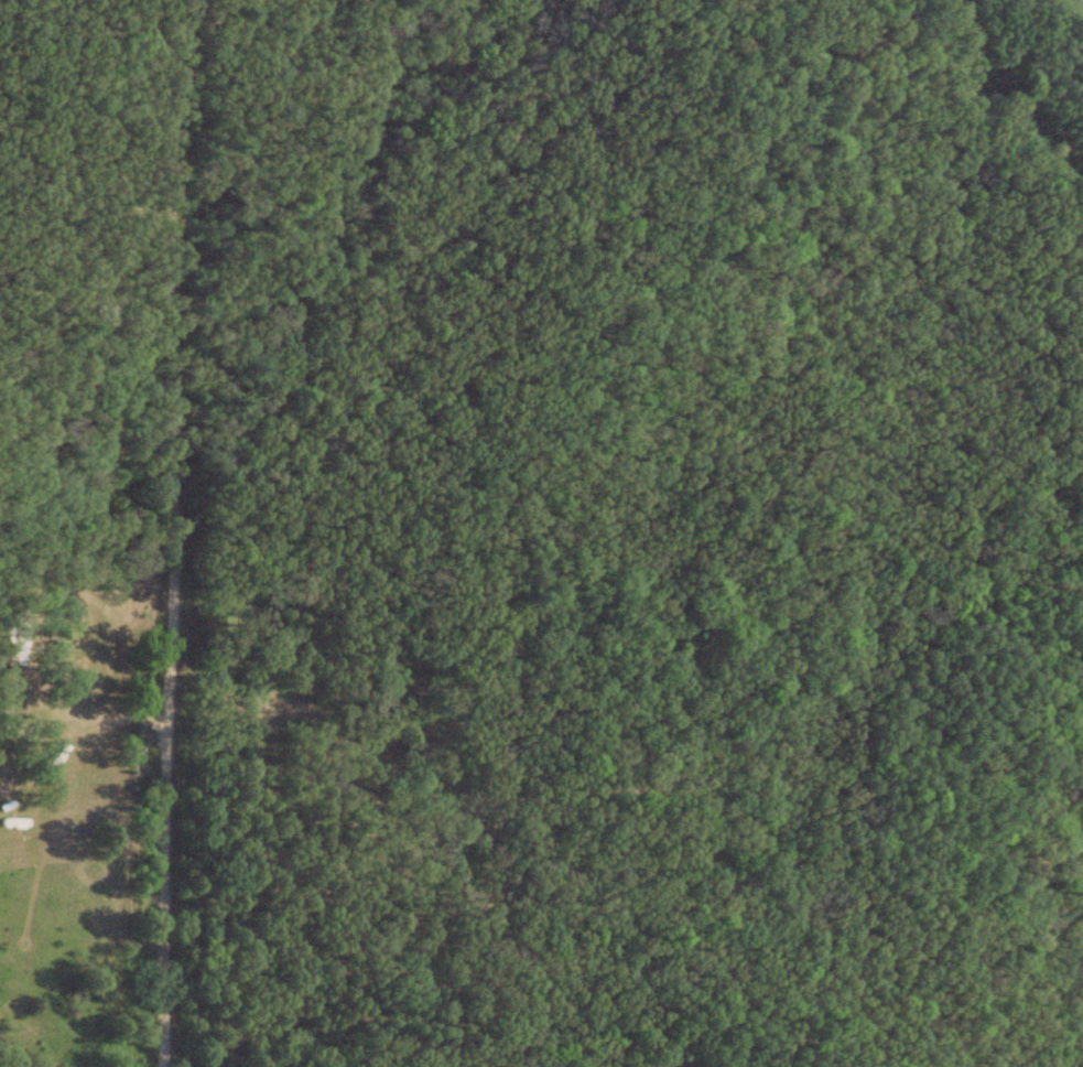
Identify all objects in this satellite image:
road: (170, 533)
road: (95, 718)

